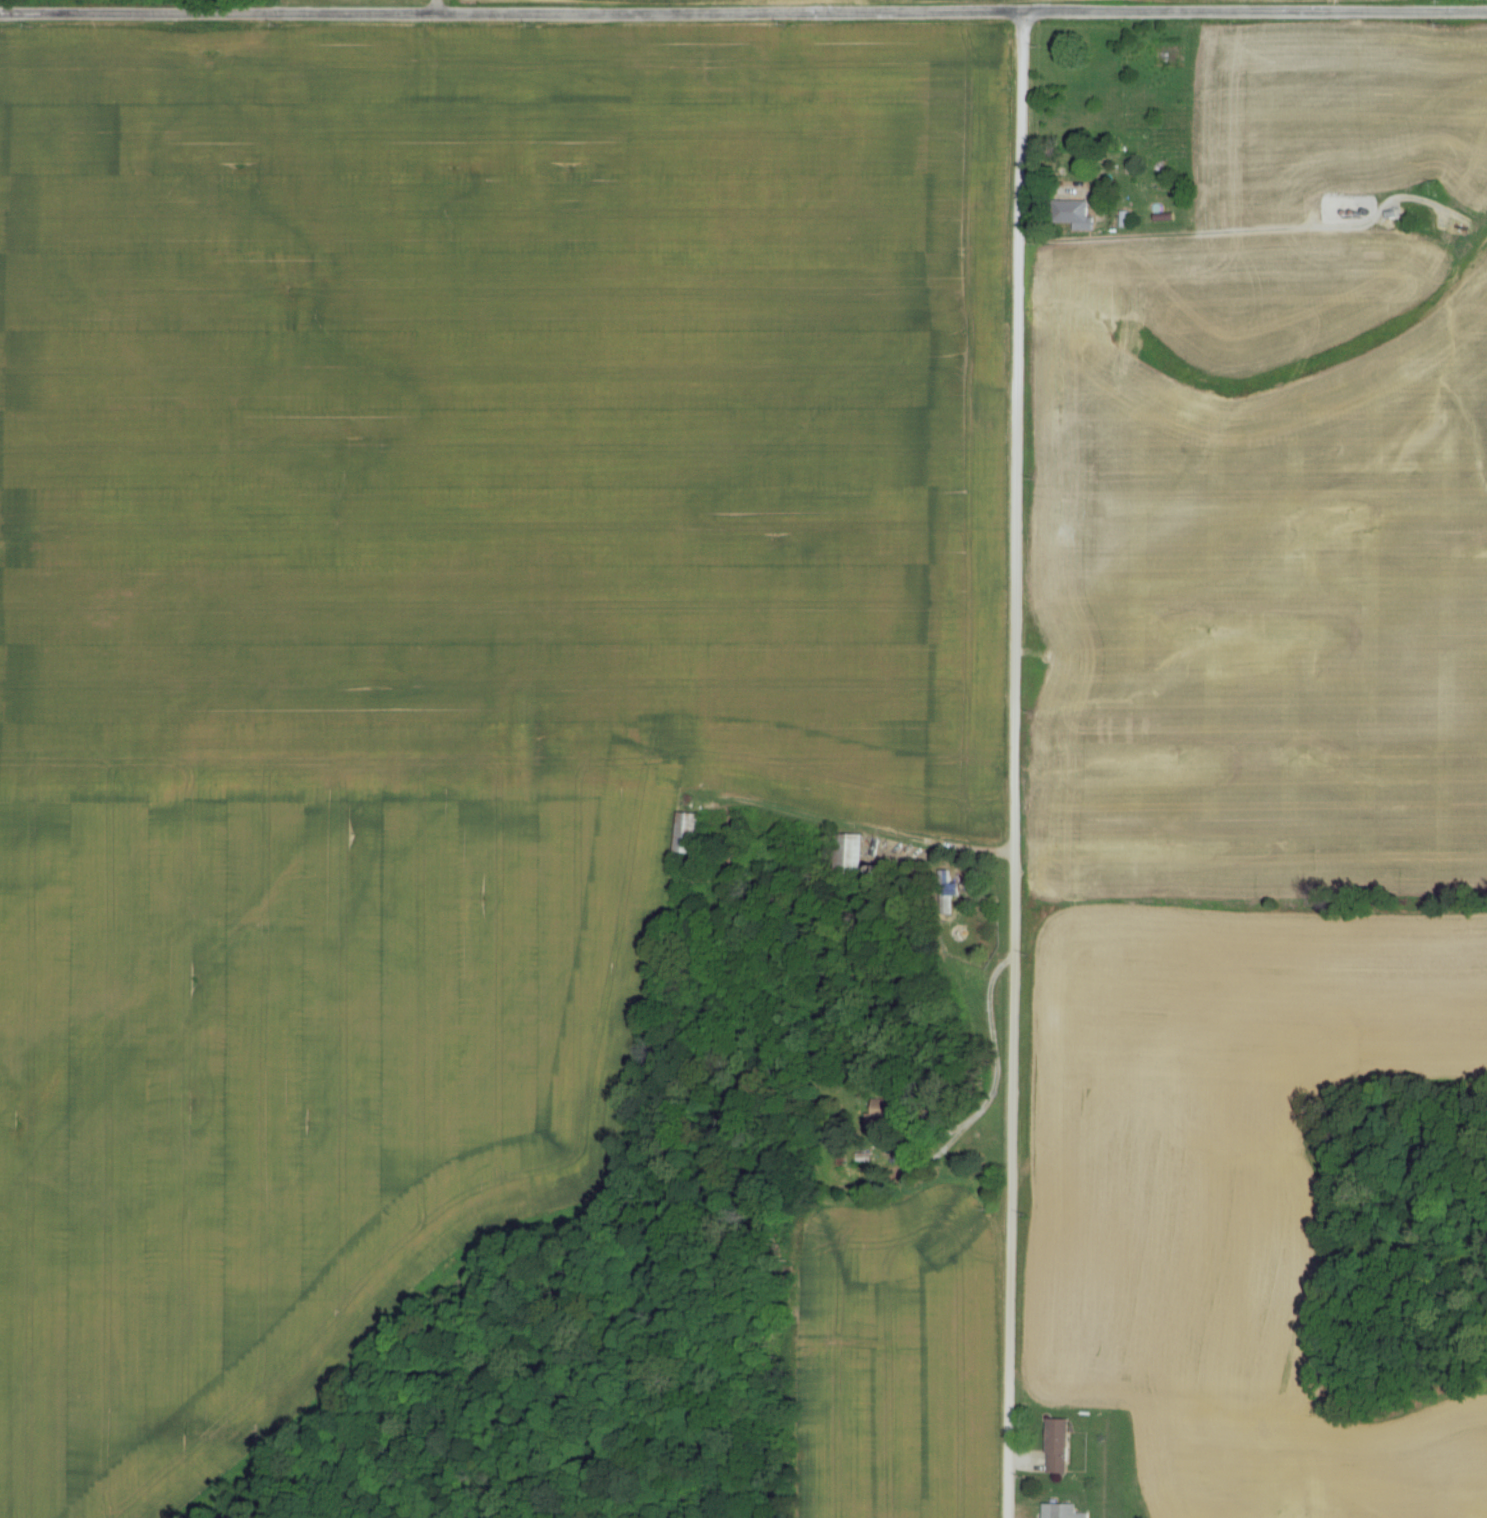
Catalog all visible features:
road: (435, 8)
road: (743, 8)
building: (1081, 217)
road: (1010, 762)
building: (688, 835)
building: (850, 855)
building: (945, 893)
road: (990, 1072)
building: (1061, 1447)
building: (1063, 1512)

